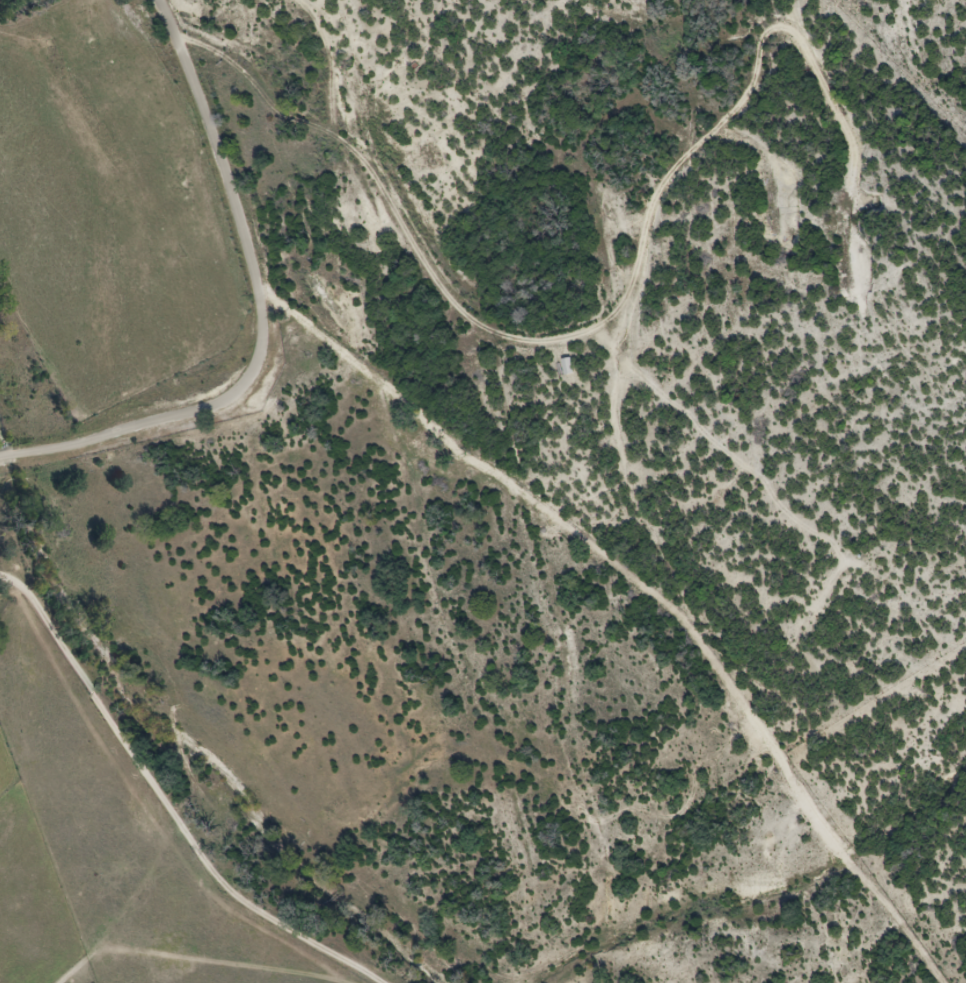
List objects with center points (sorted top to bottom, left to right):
road: (261, 319)
building: (569, 368)
road: (164, 709)

